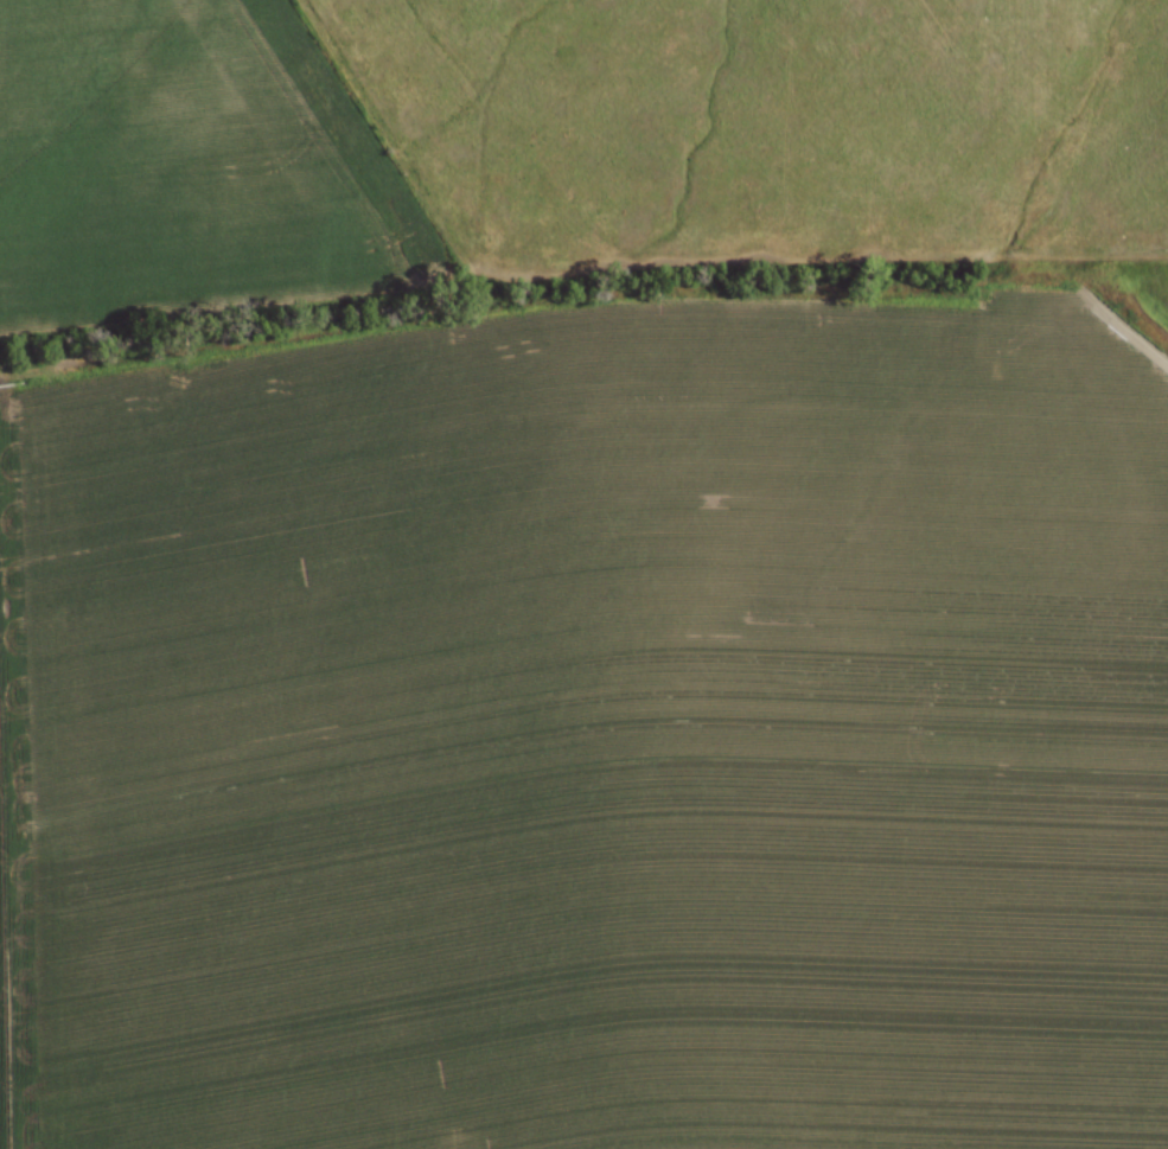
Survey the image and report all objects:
crop: (186, 162)
crop: (592, 732)

